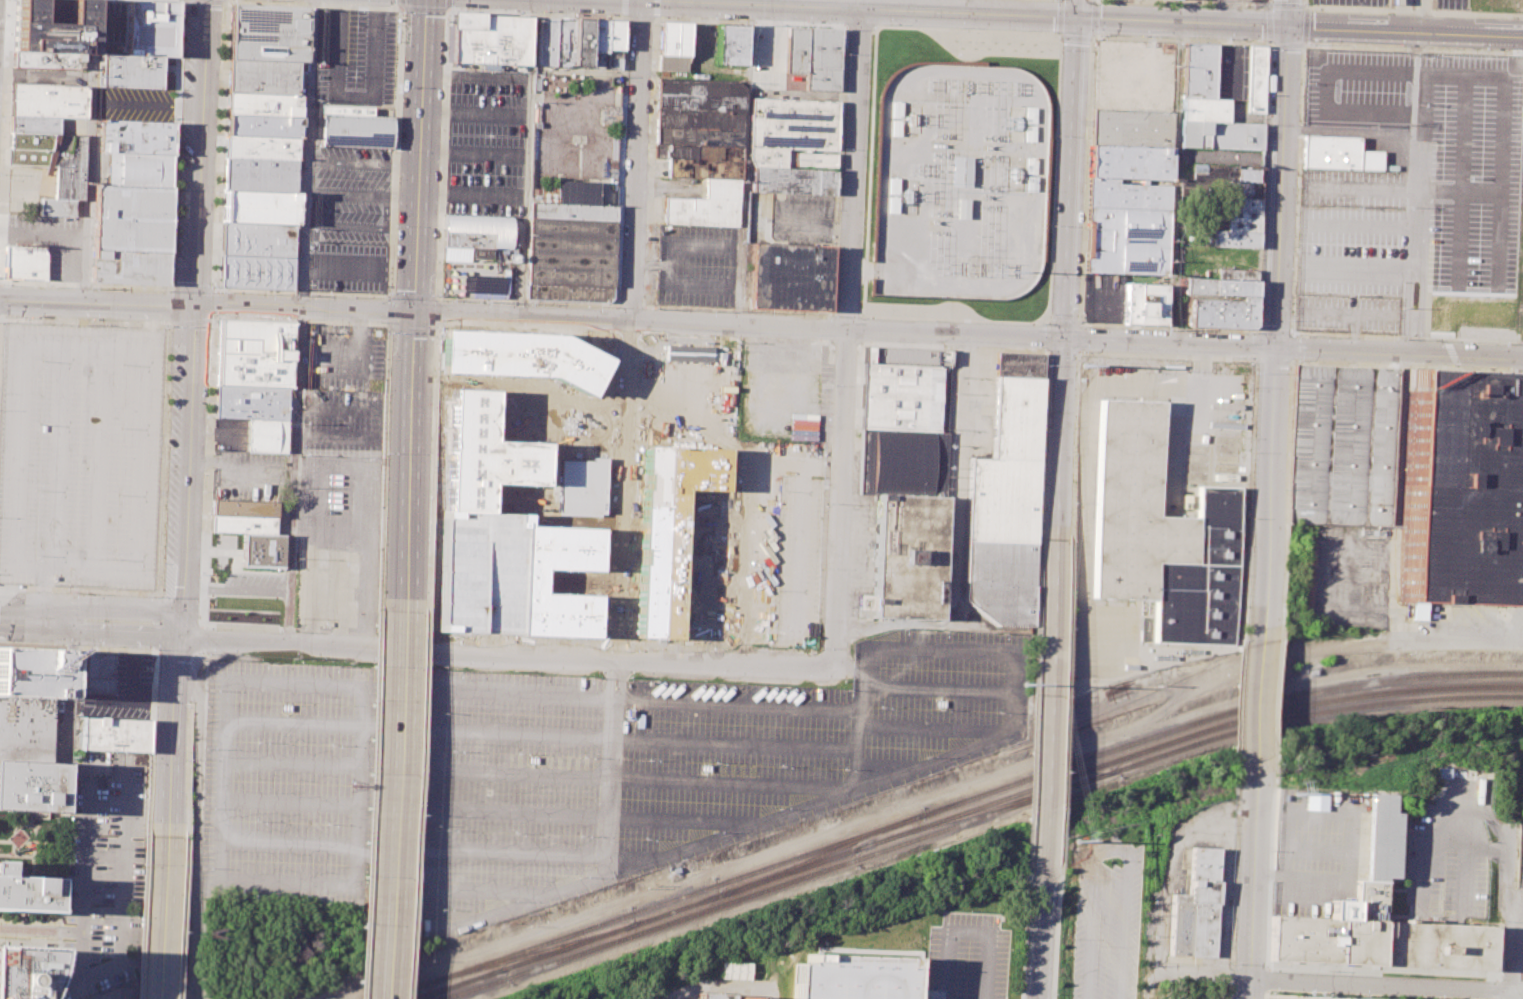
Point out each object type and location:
road: (216, 0)
road: (226, 0)
street lamp: (267, 0)
parking lot: (1243, 0)
road: (400, 2)
road: (1208, 2)
parking lot: (1351, 2)
street lamp: (359, 4)
street lamp: (1303, 4)
parking lot: (1451, 4)
road: (449, 5)
road: (1284, 5)
road: (1304, 5)
street lamp: (1265, 6)
road: (967, 7)
road: (424, 8)
road: (626, 8)
road: (656, 9)
road: (1412, 11)
street lamp: (541, 12)
street lamp: (398, 13)
road: (934, 13)
road: (1289, 13)
street lamp: (446, 14)
road: (625, 16)
road: (1060, 16)
road: (1402, 16)
road: (1424, 16)
street lamp: (712, 18)
road: (1092, 18)
traffic signals: (1075, 19)
street lamp: (803, 22)
road: (1268, 22)
street lamp: (883, 25)
road: (1304, 25)
road: (842, 26)
building: (113, 27)
traffic signals: (1289, 27)
street lamp: (955, 28)
building: (151, 29)
street lamp: (222, 30)
building: (52, 31)
building: (268, 32)
street lamp: (1046, 32)
road: (1406, 32)
road: (1075, 36)
street lamp: (1139, 36)
road: (1090, 37)
street lamp: (1224, 39)
building: (488, 40)
building: (545, 41)
road: (1269, 41)
building: (564, 42)
building: (581, 42)
building: (598, 43)
road: (1268, 43)
street lamp: (1306, 43)
building: (614, 44)
building: (732, 44)
road: (1303, 44)
road: (1287, 45)
building: (674, 46)
street lamp: (1396, 46)
road: (1271, 47)
road: (1413, 47)
street lamp: (1481, 49)
road: (1062, 50)
street lamp: (1060, 51)
building: (796, 53)
street lamp: (844, 53)
parking lot: (355, 58)
building: (49, 62)
building: (822, 62)
parking lot: (772, 64)
building: (1199, 70)
building: (132, 71)
building: (262, 76)
road: (477, 76)
road: (873, 78)
building: (1255, 80)
parking lot: (1469, 81)
parking lot: (1356, 89)
road: (1413, 91)
street lamp: (2, 92)
building: (48, 100)
building: (263, 103)
parking lot: (137, 104)
road: (476, 112)
building: (700, 112)
road: (3, 115)
building: (34, 124)
building: (793, 124)
building: (261, 126)
building: (1129, 126)
building: (355, 128)
road: (1348, 131)
building: (1220, 135)
street lamp: (1056, 137)
building: (136, 138)
parking lot: (486, 142)
road: (90, 151)
road: (475, 152)
building: (1335, 154)
road: (526, 158)
building: (792, 158)
building: (52, 159)
building: (349, 161)
building: (701, 161)
road: (744, 161)
building: (260, 163)
road: (636, 167)
road: (1069, 168)
building: (139, 171)
building: (959, 172)
road: (1053, 179)
building: (792, 180)
power substation: (958, 181)
road: (1174, 182)
road: (1281, 187)
parking lot: (22, 189)
building: (722, 189)
street lamp: (215, 192)
road: (473, 194)
building: (55, 207)
building: (259, 207)
building: (961, 208)
building: (1126, 210)
building: (700, 211)
parking lot: (801, 219)
building: (131, 220)
building: (1236, 223)
street lamp: (1052, 227)
parking lot: (1393, 227)
road: (171, 228)
parking lot: (351, 230)
building: (476, 231)
road: (64, 237)
building: (257, 239)
parking lot: (49, 241)
road: (77, 243)
building: (571, 244)
road: (1422, 250)
road: (1408, 252)
building: (25, 262)
parking lot: (697, 265)
building: (129, 267)
power tower: (1010, 269)
road: (860, 270)
building: (255, 271)
building: (1234, 272)
building: (790, 277)
street lamp: (215, 288)
road: (216, 289)
street lamp: (270, 293)
building: (568, 293)
road: (414, 295)
road: (392, 296)
road: (437, 297)
building: (1141, 303)
building: (1219, 303)
road: (212, 305)
road: (616, 305)
road: (169, 306)
traffic signals: (194, 306)
road: (417, 306)
road: (631, 306)
road: (834, 313)
traffic signals: (417, 314)
road: (847, 314)
street lamp: (1048, 315)
road: (193, 316)
road: (531, 317)
street lamp: (92, 319)
road: (954, 319)
road: (613, 320)
road: (300, 322)
street lamp: (1037, 323)
road: (1065, 323)
road: (412, 325)
street lamp: (165, 328)
road: (359, 328)
road: (525, 330)
parking lot: (1485, 331)
road: (621, 334)
road: (846, 334)
road: (635, 335)
road: (1389, 335)
road: (1080, 336)
road: (1047, 337)
road: (736, 338)
traffic signals: (1063, 338)
road: (1168, 341)
road: (845, 342)
street lamp: (208, 344)
road: (329, 345)
road: (993, 348)
traffic signals: (1274, 348)
road: (1063, 352)
road: (1398, 352)
building: (688, 353)
building: (253, 354)
building: (907, 356)
parking lot: (343, 357)
building: (521, 357)
road: (1275, 360)
power tower: (1084, 365)
street lamp: (1046, 366)
road: (339, 370)
road: (386, 378)
building: (900, 398)
building: (251, 402)
road: (1254, 415)
parking lot: (341, 422)
parking lot: (229, 434)
building: (265, 435)
road: (212, 436)
road: (1060, 439)
road: (1075, 444)
building: (1341, 444)
road: (162, 453)
building: (484, 453)
parking lot: (78, 454)
road: (423, 462)
building: (902, 462)
road: (430, 469)
road: (230, 471)
parking lot: (1085, 472)
parking lot: (252, 477)
parking lot: (339, 480)
building: (581, 487)
road: (1268, 495)
building: (1453, 496)
road: (623, 497)
building: (1008, 499)
building: (243, 507)
building: (242, 523)
building: (338, 526)
building: (668, 527)
building: (1160, 534)
road: (205, 545)
parking lot: (225, 549)
building: (262, 550)
building: (906, 559)
building: (477, 572)
parking garage: (477, 572)
building: (1308, 577)
building: (557, 580)
parking lot: (327, 585)
road: (235, 591)
street lamp: (71, 594)
street lamp: (146, 596)
road: (128, 607)
road: (36, 620)
road: (157, 622)
road: (124, 634)
street lamp: (64, 644)
street lamp: (152, 649)
road: (201, 651)
road: (505, 654)
road: (156, 665)
building: (32, 672)
building: (97, 672)
power tower: (1029, 686)
road: (939, 688)
road: (476, 690)
road: (1261, 702)
road: (1033, 703)
road: (1050, 704)
road: (1064, 704)
road: (1241, 708)
railway: (1316, 714)
railway: (1218, 716)
building: (25, 729)
road: (932, 729)
road: (541, 733)
building: (115, 734)
road: (174, 735)
railway: (1181, 738)
road: (857, 745)
road: (188, 756)
street lamp: (187, 763)
parking lot: (559, 768)
road: (533, 772)
road: (80, 773)
building: (29, 785)
road: (381, 785)
power tower: (1295, 793)
building: (1315, 801)
road: (370, 805)
road: (395, 805)
road: (409, 805)
road: (416, 805)
road: (487, 810)
railway: (985, 810)
power tower: (1074, 841)
road: (414, 845)
street lamp: (1271, 851)
railway: (823, 853)
road: (1505, 863)
railway: (787, 872)
road: (1255, 873)
road: (1464, 878)
parking lot: (104, 881)
road: (123, 884)
railway: (782, 884)
road: (1236, 884)
road: (483, 890)
building: (26, 893)
railway: (674, 899)
building: (1198, 902)
road: (1519, 904)
railway: (678, 909)
road: (144, 917)
road: (164, 918)
road: (183, 918)
building: (1381, 918)
parking lot: (1104, 921)
road: (40, 929)
road: (1024, 932)
road: (1041, 933)
road: (1055, 933)
street lamp: (1268, 935)
railway: (573, 945)
road: (872, 947)
road: (1518, 949)
road: (1512, 950)
railway: (529, 955)
building: (735, 970)
building: (19, 971)
railway: (469, 982)
railway: (463, 983)
road: (724, 984)
road: (1382, 988)
street lamp: (1271, 991)
railway: (403, 992)
road: (1251, 992)
road: (1517, 992)
street lamp: (1052, 994)
road: (1511, 995)
building: (714, 996)
parking lot: (1225, 998)

